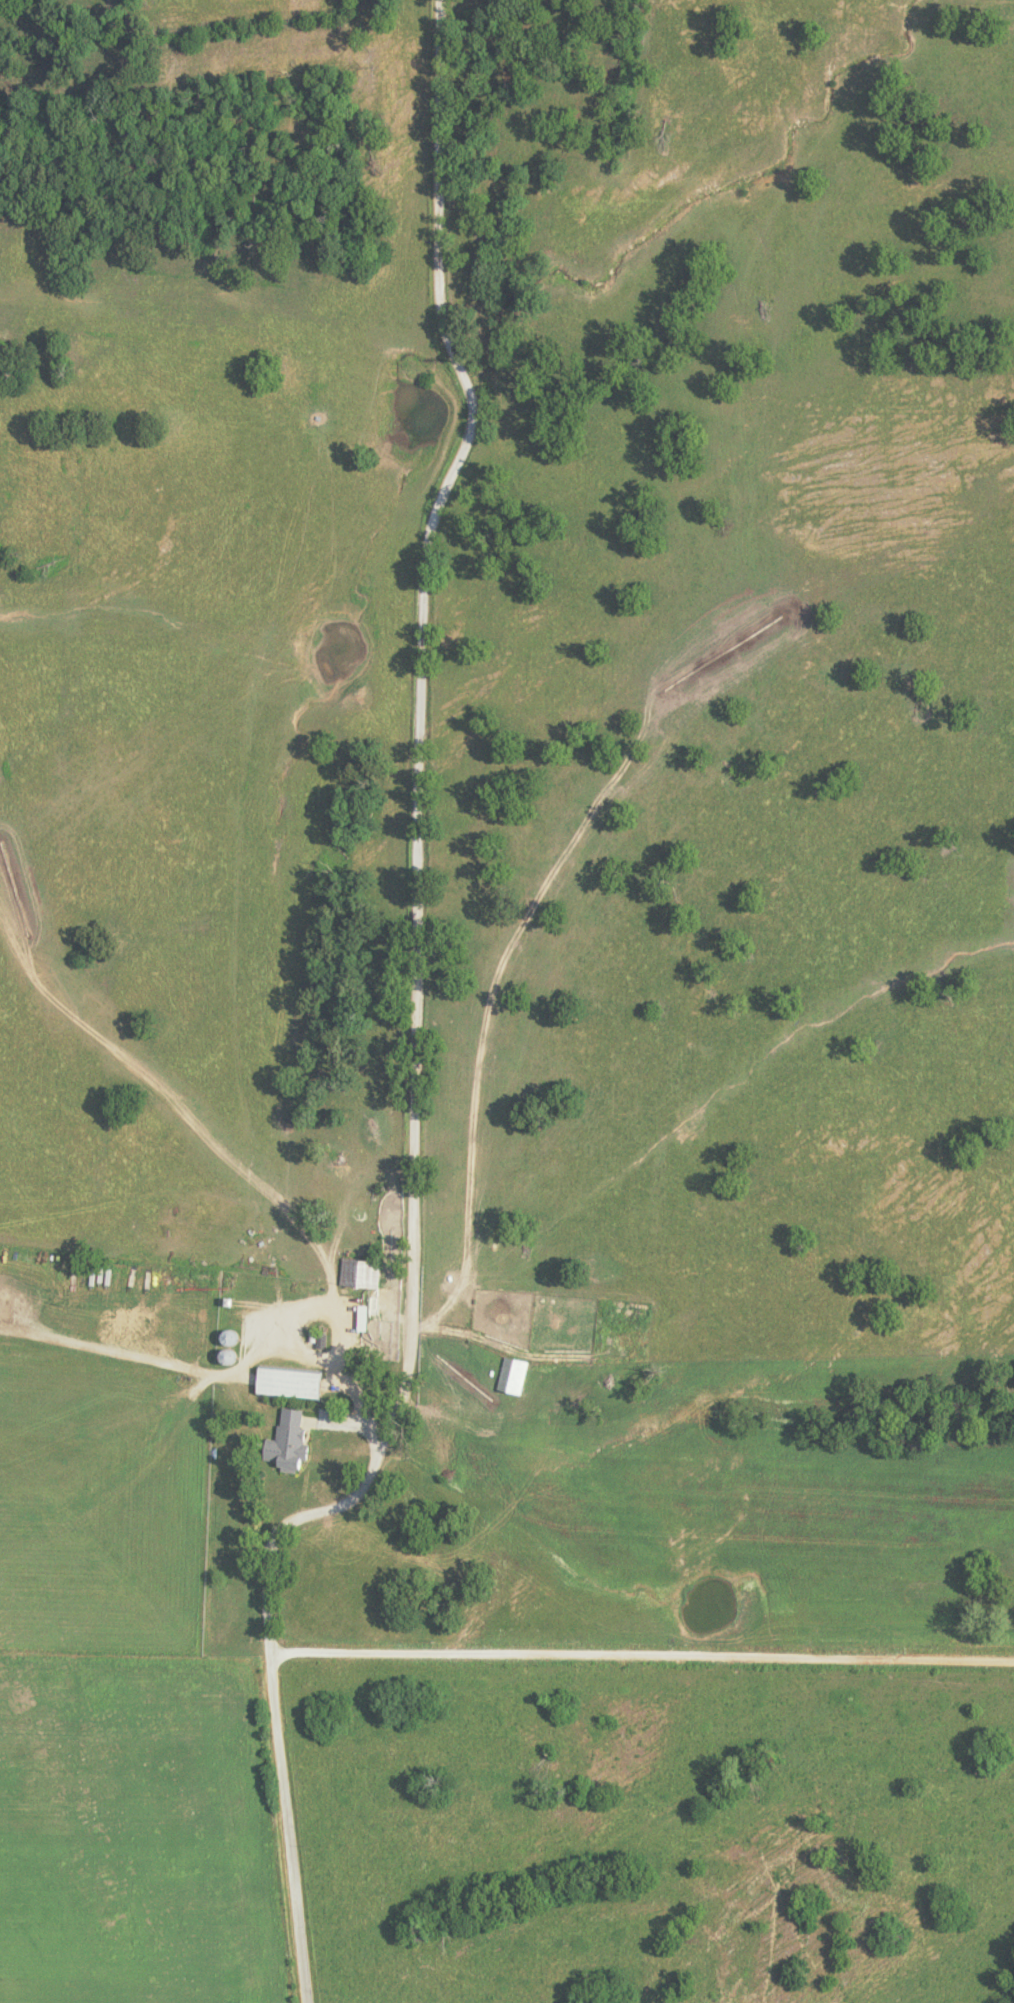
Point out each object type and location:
road: (414, 1036)
building: (368, 1271)
building: (371, 1317)
building: (300, 1381)
building: (294, 1434)
road: (643, 1655)

